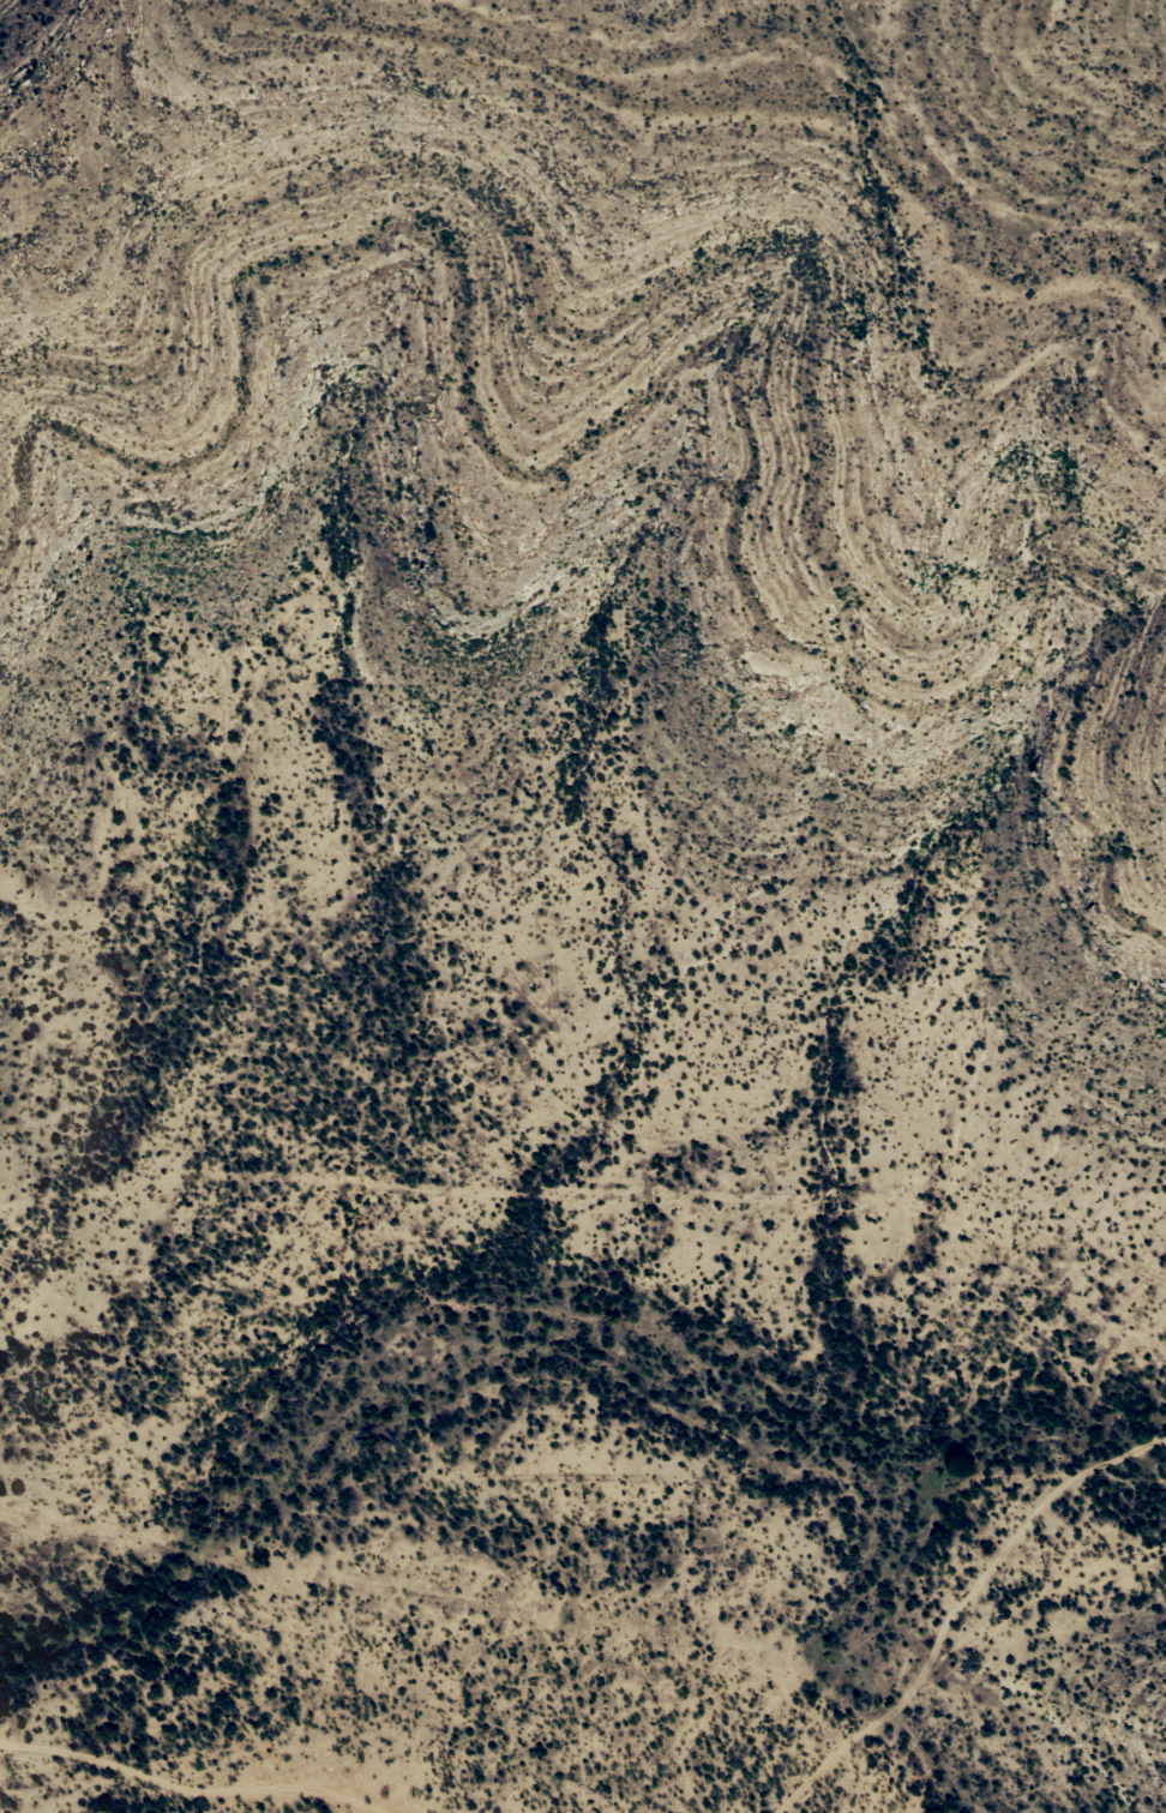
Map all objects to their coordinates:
road: (150, 1805)

